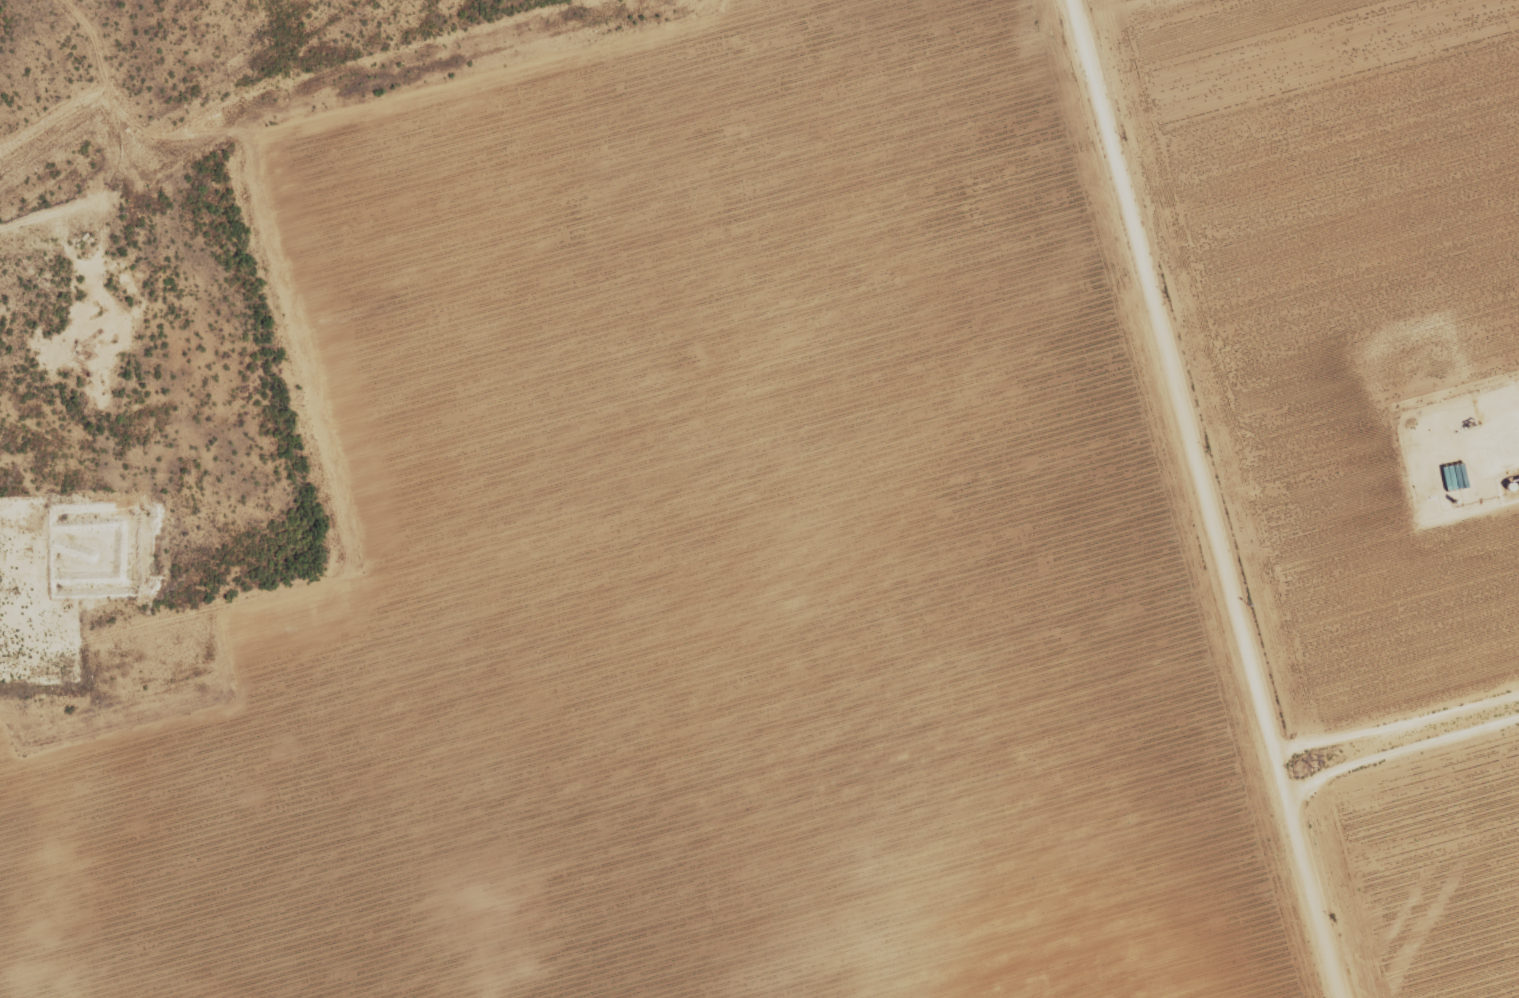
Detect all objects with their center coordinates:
road: (1193, 498)
road: (1396, 723)
road: (1397, 748)

